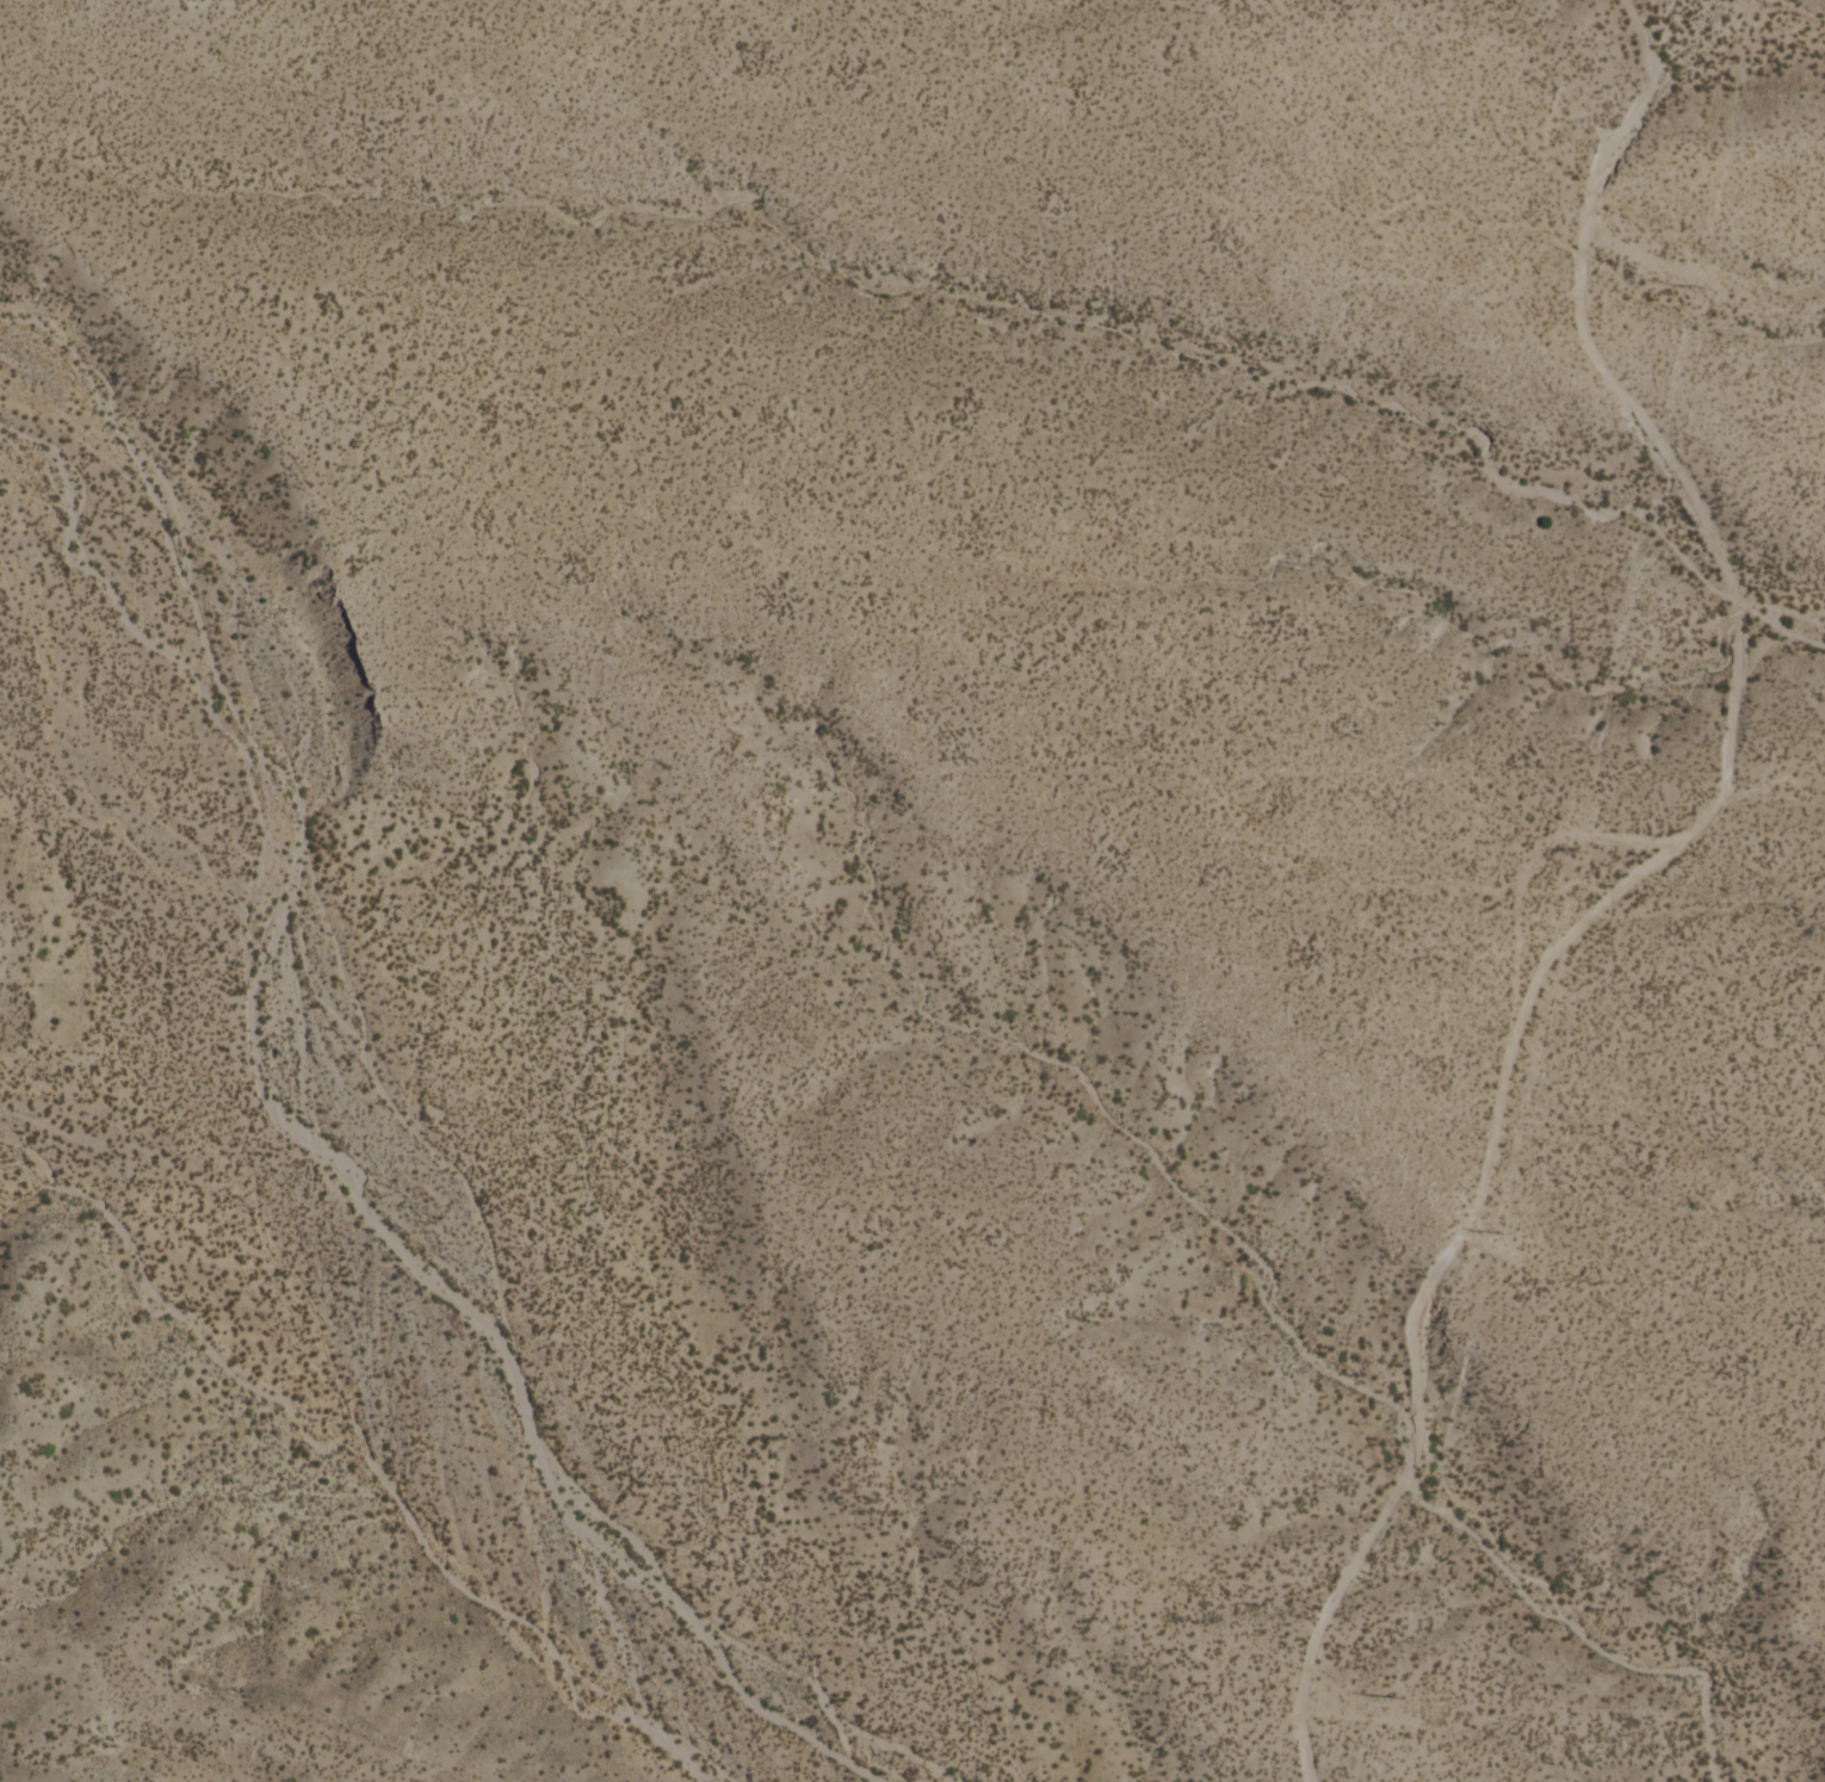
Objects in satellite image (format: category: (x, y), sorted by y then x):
road: (1642, 416)
road: (1535, 860)
road: (1590, 916)
road: (1410, 1402)

